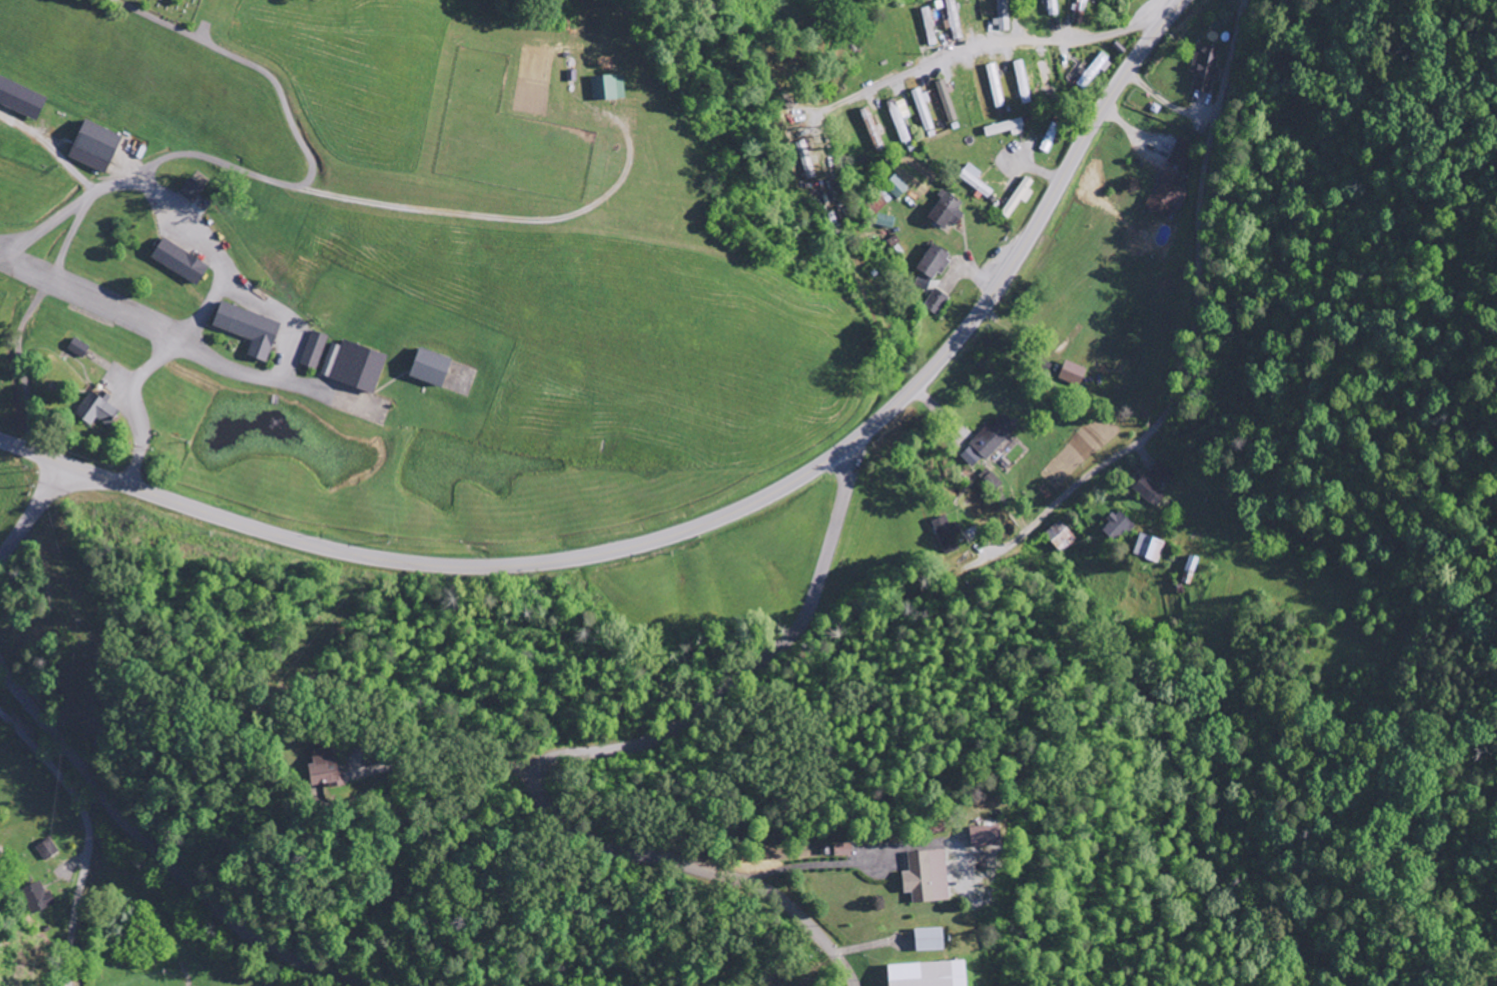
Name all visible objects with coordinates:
building: (1053, 8)
building: (1081, 12)
park: (160, 13)
building: (1005, 15)
building: (955, 19)
road: (1010, 41)
building: (1101, 67)
building: (1208, 68)
building: (1024, 83)
building: (997, 87)
building: (610, 89)
building: (22, 98)
building: (948, 102)
building: (924, 109)
building: (901, 117)
building: (1009, 129)
building: (98, 148)
building: (977, 182)
building: (899, 189)
building: (194, 191)
building: (1166, 195)
building: (1021, 198)
building: (949, 212)
building: (887, 223)
building: (183, 263)
building: (937, 263)
airport runway: (10, 265)
building: (924, 284)
building: (938, 303)
road: (1193, 306)
building: (251, 331)
building: (80, 349)
building: (315, 351)
building: (356, 367)
building: (434, 369)
building: (1076, 375)
building: (101, 409)
building: (995, 438)
road: (825, 461)
building: (1163, 475)
road: (130, 487)
road: (56, 490)
building: (1150, 492)
building: (1119, 528)
building: (1062, 537)
road: (17, 541)
building: (1150, 549)
road: (613, 751)
road: (87, 835)
building: (989, 836)
building: (48, 850)
building: (844, 850)
road: (156, 851)
building: (929, 876)
building: (35, 900)
building: (932, 940)
building: (932, 974)

